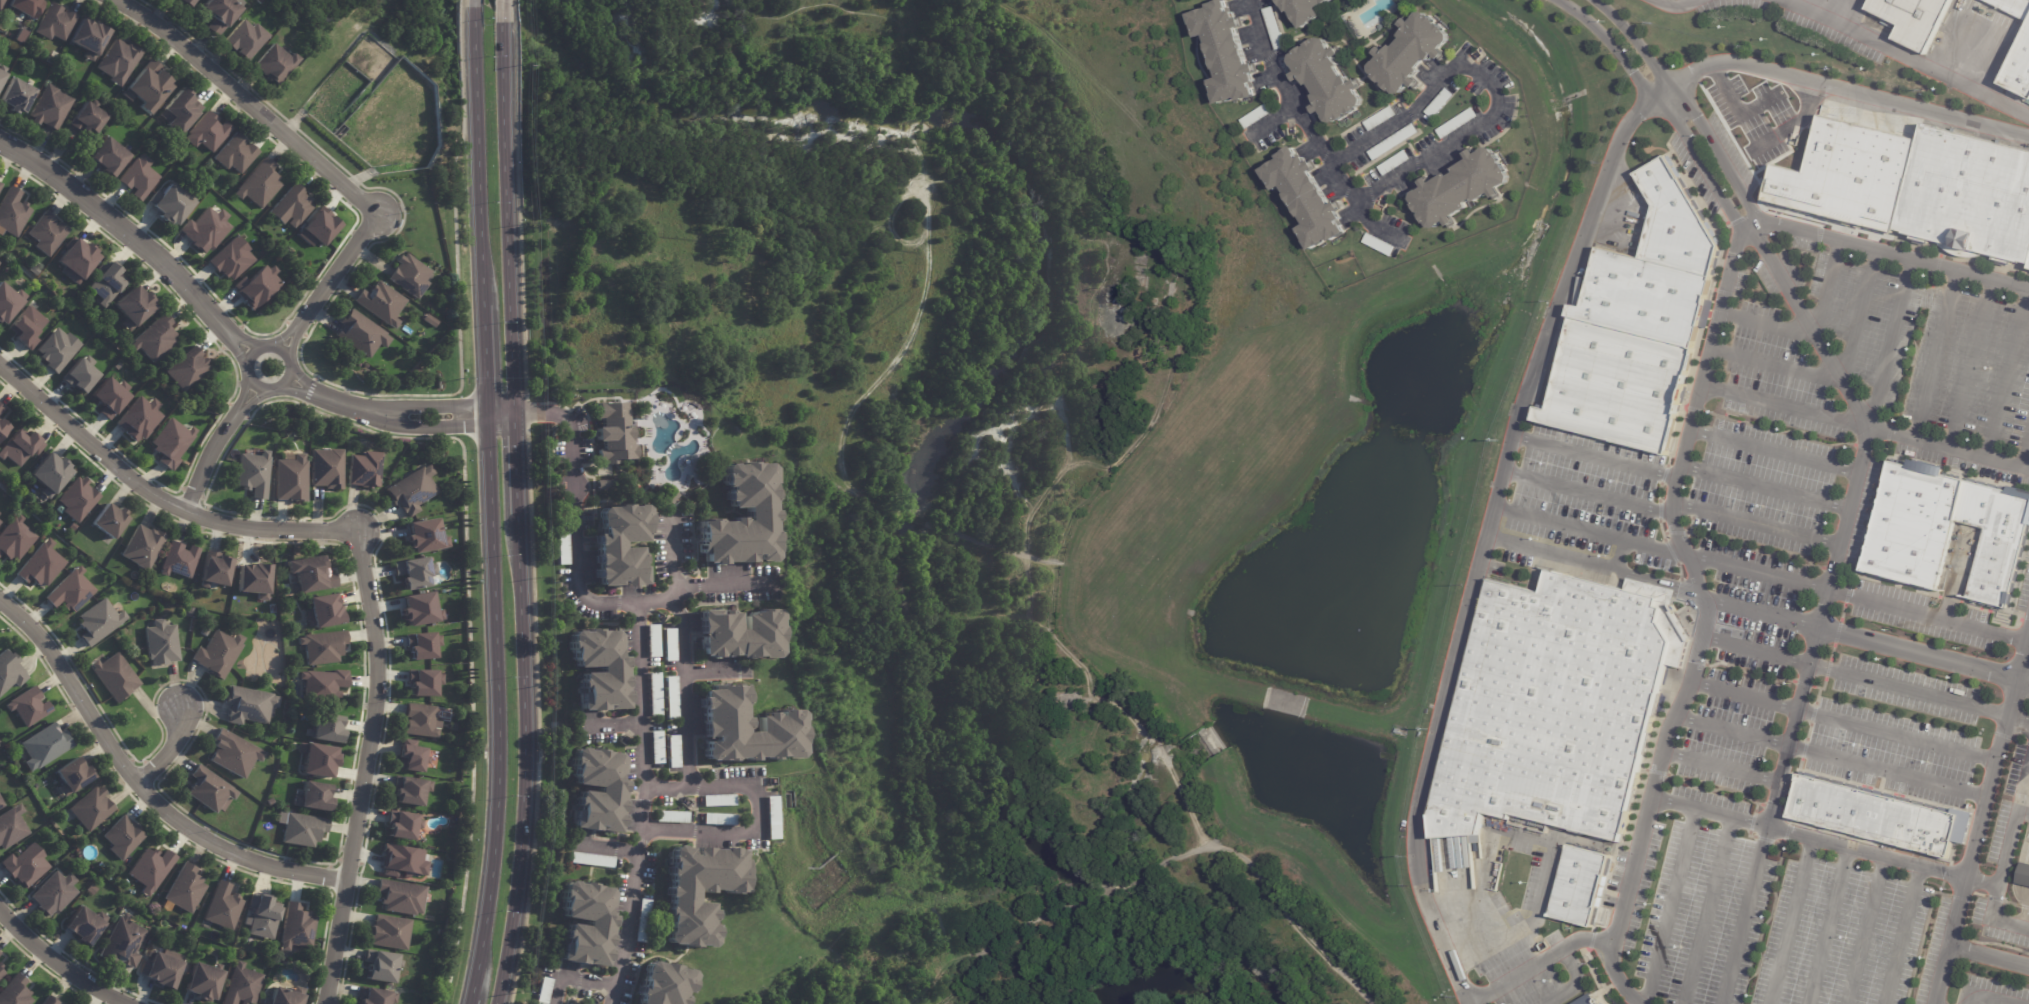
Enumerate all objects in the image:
building: (185, 2)
building: (1, 3)
road: (464, 3)
road: (1681, 6)
building: (25, 7)
building: (2013, 7)
road: (496, 11)
building: (1308, 11)
building: (220, 13)
building: (52, 20)
building: (1917, 20)
park: (391, 24)
building: (1275, 29)
building: (84, 36)
building: (245, 39)
building: (1229, 54)
building: (1413, 55)
road: (1908, 57)
building: (115, 60)
building: (274, 64)
building: (2, 72)
building: (2020, 73)
building: (1329, 81)
road: (1483, 83)
building: (147, 87)
building: (16, 96)
road: (247, 104)
building: (1440, 104)
building: (49, 108)
road: (1692, 110)
building: (180, 112)
road: (1671, 114)
building: (1258, 116)
building: (88, 118)
building: (1381, 120)
road: (1270, 124)
building: (1459, 124)
road: (1308, 130)
building: (207, 133)
building: (1395, 143)
building: (235, 154)
road: (472, 156)
building: (109, 157)
building: (1396, 164)
building: (138, 178)
building: (0, 182)
building: (0, 184)
building: (258, 185)
building: (1463, 189)
building: (1966, 197)
building: (1309, 199)
building: (171, 203)
building: (291, 207)
building: (12, 211)
building: (319, 227)
building: (205, 230)
building: (47, 232)
road: (132, 241)
building: (1380, 245)
road: (1894, 255)
building: (231, 259)
building: (77, 260)
building: (1653, 269)
building: (408, 276)
road: (331, 281)
building: (102, 282)
building: (257, 287)
road: (1826, 289)
building: (7, 301)
building: (128, 304)
building: (380, 304)
road: (1859, 315)
building: (429, 321)
road: (1768, 325)
building: (22, 326)
building: (360, 334)
building: (151, 337)
road: (1890, 344)
building: (58, 349)
road: (283, 351)
road: (1935, 356)
road: (481, 362)
road: (1777, 364)
road: (1971, 366)
building: (183, 368)
building: (74, 374)
road: (2008, 375)
building: (1616, 387)
building: (104, 396)
road: (1786, 406)
road: (1858, 407)
building: (1, 409)
road: (382, 415)
building: (134, 417)
road: (565, 422)
building: (2, 428)
building: (614, 433)
road: (1515, 433)
building: (167, 441)
building: (20, 446)
road: (213, 447)
road: (1774, 452)
road: (2025, 454)
road: (1597, 458)
park: (948, 460)
building: (327, 468)
building: (360, 468)
building: (253, 473)
building: (50, 474)
building: (291, 478)
building: (605, 483)
road: (1766, 488)
building: (409, 489)
road: (1589, 493)
building: (669, 497)
building: (77, 499)
road: (156, 499)
building: (0, 514)
road: (516, 514)
building: (738, 517)
building: (109, 521)
road: (1758, 523)
road: (1844, 527)
building: (1941, 529)
road: (1591, 532)
building: (421, 536)
building: (15, 538)
building: (563, 542)
building: (620, 544)
building: (142, 546)
building: (179, 560)
building: (41, 565)
building: (215, 570)
building: (413, 572)
road: (1758, 573)
building: (310, 575)
road: (1694, 576)
building: (254, 579)
road: (724, 587)
building: (70, 591)
road: (621, 605)
building: (420, 609)
building: (323, 610)
building: (190, 611)
road: (1760, 615)
road: (1927, 616)
building: (98, 621)
building: (294, 631)
building: (205, 632)
building: (740, 633)
building: (653, 640)
building: (160, 642)
building: (670, 644)
building: (421, 645)
building: (322, 647)
road: (1759, 650)
building: (218, 653)
road: (1916, 654)
building: (599, 668)
building: (10, 671)
road: (2024, 671)
road: (715, 672)
building: (114, 676)
building: (423, 682)
building: (322, 685)
road: (1907, 689)
road: (2021, 690)
building: (655, 694)
road: (683, 694)
road: (1744, 697)
building: (672, 698)
building: (244, 704)
building: (28, 706)
building: (1562, 708)
road: (494, 711)
building: (420, 721)
road: (2017, 722)
building: (725, 723)
building: (326, 728)
road: (1733, 733)
road: (1896, 734)
road: (1790, 735)
building: (44, 746)
building: (657, 747)
road: (169, 750)
building: (674, 751)
building: (234, 753)
building: (412, 758)
building: (317, 759)
road: (366, 766)
road: (1723, 768)
road: (1886, 772)
building: (71, 776)
road: (139, 788)
building: (208, 789)
building: (411, 790)
building: (597, 790)
building: (312, 796)
building: (270, 800)
building: (719, 800)
building: (1, 804)
road: (642, 806)
building: (90, 809)
road: (1713, 809)
road: (2021, 812)
road: (756, 814)
building: (672, 817)
building: (1873, 817)
road: (1979, 817)
building: (772, 818)
building: (720, 819)
road: (2011, 822)
building: (398, 823)
building: (11, 826)
building: (302, 829)
building: (122, 837)
road: (1863, 855)
building: (399, 859)
building: (592, 860)
building: (24, 865)
building: (150, 869)
building: (2023, 875)
building: (408, 876)
building: (1581, 885)
building: (184, 888)
building: (53, 893)
building: (396, 895)
building: (681, 897)
road: (1671, 905)
building: (222, 906)
road: (1991, 907)
road: (1708, 909)
building: (262, 916)
parking lot: (1770, 917)
building: (643, 921)
road: (1790, 922)
building: (585, 924)
road: (1740, 924)
building: (84, 926)
building: (297, 927)
road: (1827, 927)
building: (389, 932)
road: (1864, 932)
road: (1903, 937)
building: (122, 942)
building: (215, 953)
road: (1987, 956)
building: (1, 966)
building: (380, 966)
road: (57, 968)
building: (161, 971)
road: (1613, 971)
building: (1, 973)
road: (573, 980)
road: (1577, 981)
building: (202, 982)
building: (664, 984)
building: (241, 985)
building: (544, 991)
building: (15, 992)
building: (284, 996)
road: (1989, 996)
building: (375, 997)
building: (1583, 1000)
building: (49, 1001)
road: (1469, 1002)
road: (465, 1003)

